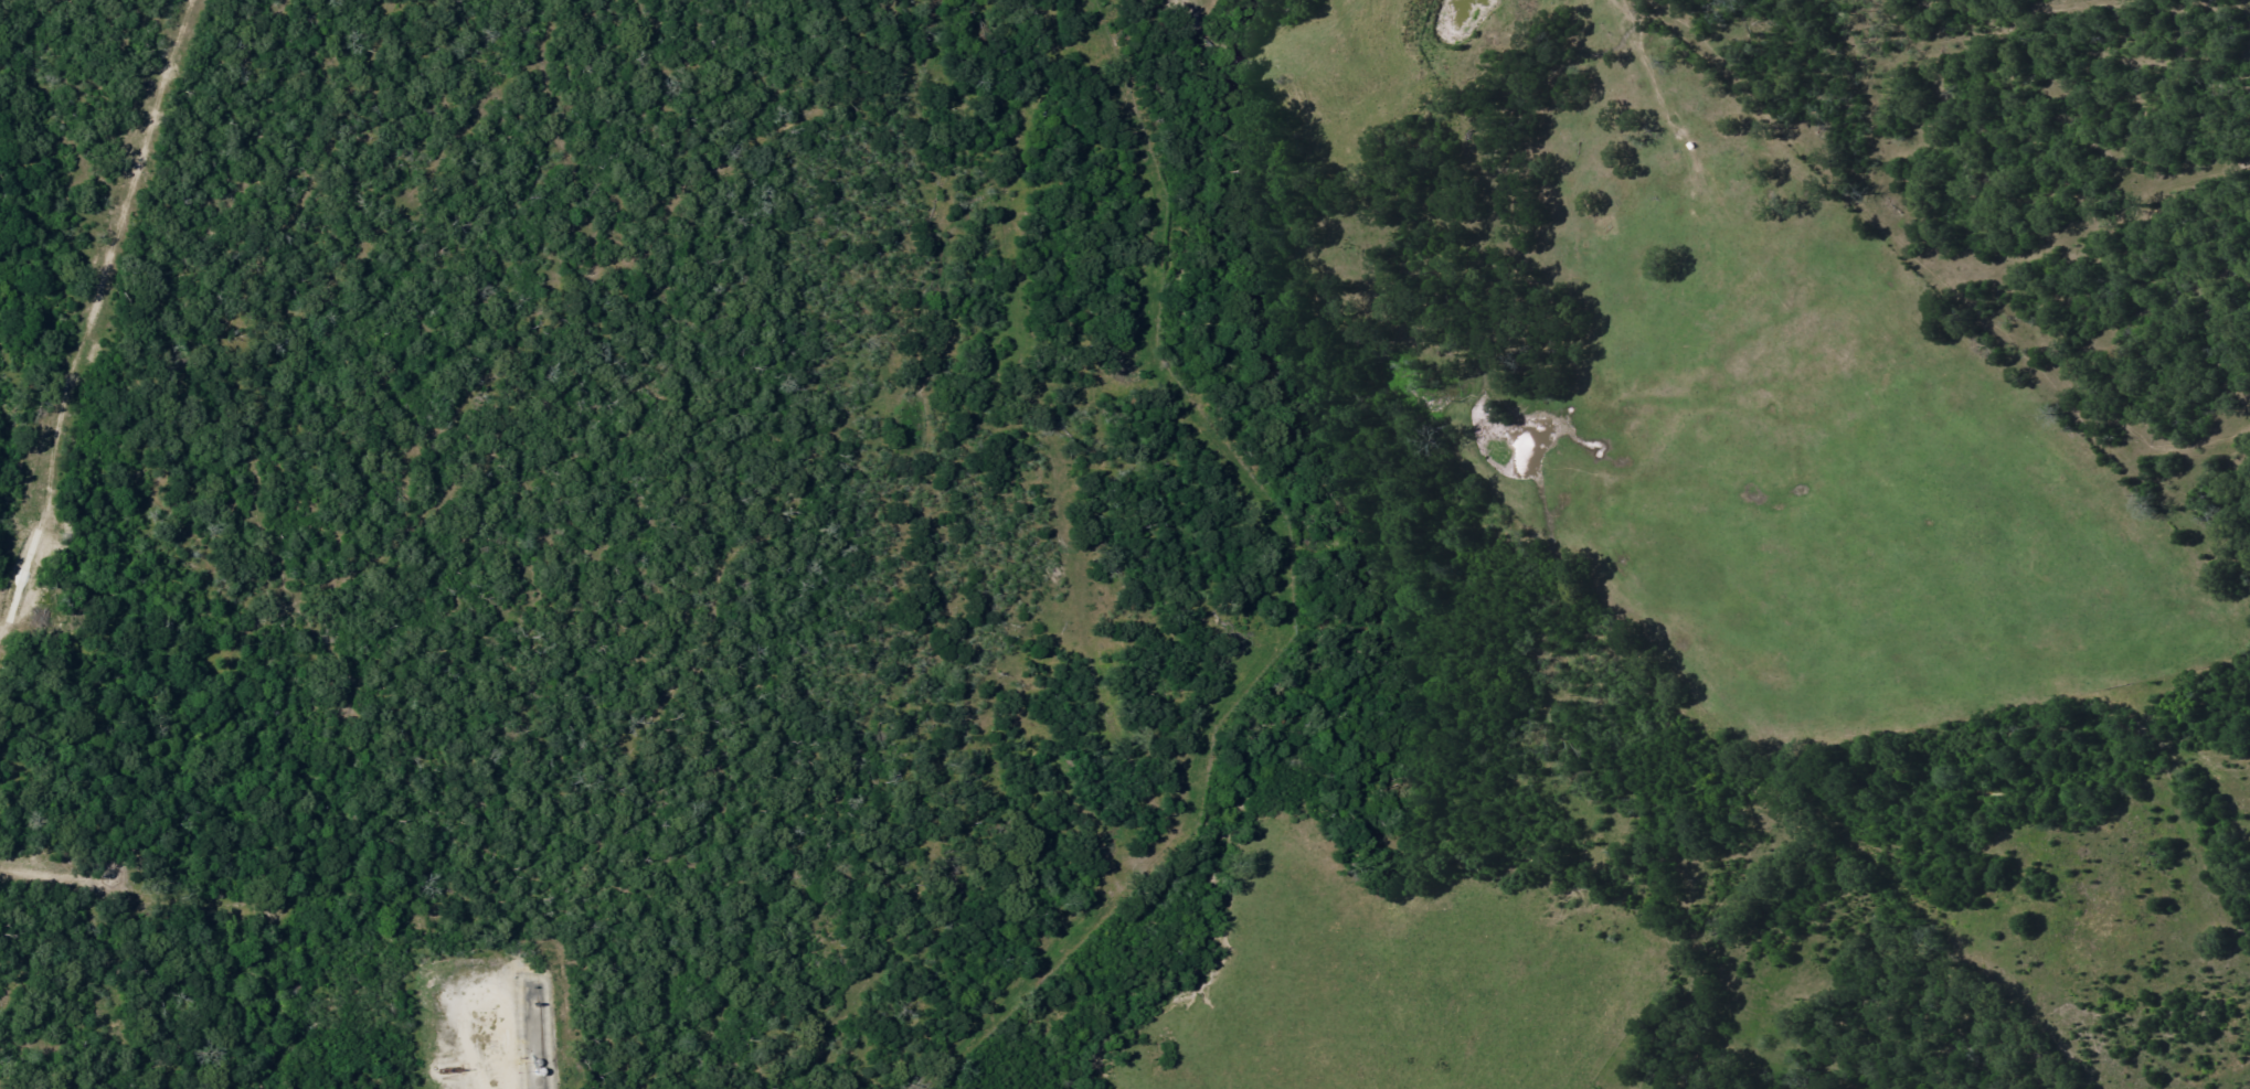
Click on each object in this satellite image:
road: (1627, 51)
petroleum well: (453, 1070)

